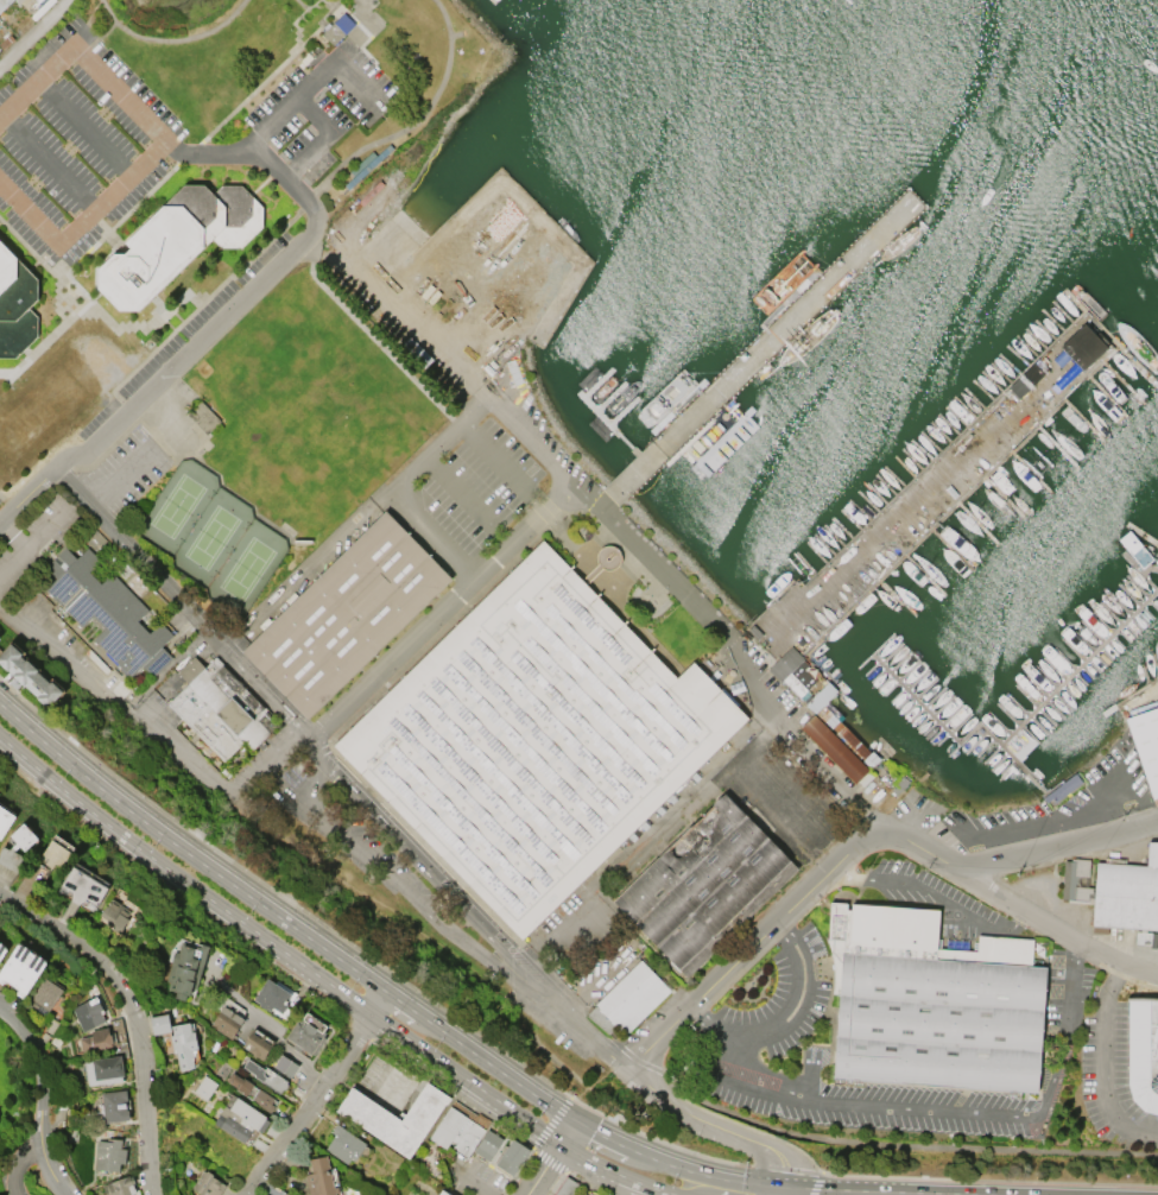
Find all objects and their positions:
building: (18, 0)
road: (327, 1)
building: (4, 4)
road: (300, 4)
road: (321, 25)
road: (29, 27)
building: (333, 33)
road: (97, 37)
road: (366, 38)
road: (171, 39)
road: (337, 64)
road: (259, 84)
road: (311, 109)
parking lot: (319, 113)
road: (413, 121)
road: (83, 127)
road: (164, 139)
parking lot: (76, 141)
road: (203, 151)
road: (48, 162)
building: (177, 240)
road: (308, 249)
road: (68, 251)
road: (76, 287)
building: (15, 306)
road: (44, 339)
road: (201, 339)
road: (375, 341)
building: (1082, 346)
pier: (761, 347)
pier: (596, 385)
pier: (609, 399)
pier: (624, 412)
building: (202, 418)
pier: (607, 424)
road: (532, 435)
park: (262, 444)
road: (501, 466)
parking lot: (124, 472)
road: (118, 479)
road: (394, 485)
parking lot: (469, 492)
road: (558, 495)
road: (468, 499)
pier: (919, 502)
park: (176, 505)
road: (12, 533)
park: (210, 536)
road: (32, 537)
building: (607, 556)
road: (652, 562)
park: (246, 568)
road: (603, 593)
road: (185, 599)
road: (179, 605)
building: (106, 611)
building: (344, 614)
road: (426, 626)
road: (49, 658)
building: (791, 670)
building: (27, 675)
railway: (112, 688)
pier: (1055, 688)
building: (219, 707)
building: (837, 722)
pier: (937, 722)
road: (302, 727)
building: (534, 738)
road: (798, 745)
building: (1145, 745)
building: (833, 747)
road: (319, 750)
road: (317, 751)
road: (328, 758)
road: (213, 786)
road: (291, 795)
road: (1072, 809)
road: (138, 817)
building: (5, 818)
road: (905, 821)
building: (21, 836)
road: (853, 846)
building: (53, 853)
road: (424, 865)
road: (388, 877)
road: (183, 880)
building: (707, 884)
building: (82, 886)
building: (1114, 889)
road: (931, 891)
road: (472, 900)
building: (114, 913)
road: (1045, 923)
road: (561, 934)
building: (1, 949)
road: (336, 956)
building: (20, 968)
building: (184, 968)
railway: (524, 987)
road: (593, 987)
building: (42, 995)
building: (270, 995)
building: (631, 995)
road: (544, 1003)
building: (931, 1003)
road: (380, 1004)
parking lot: (773, 1005)
building: (87, 1012)
road: (418, 1013)
road: (131, 1016)
road: (784, 1018)
building: (224, 1020)
building: (159, 1023)
road: (531, 1029)
building: (305, 1032)
road: (274, 1033)
building: (95, 1039)
building: (182, 1044)
building: (255, 1044)
building: (1143, 1052)
road: (439, 1060)
building: (283, 1063)
road: (1103, 1063)
parking lot: (1120, 1066)
road: (654, 1068)
building: (102, 1069)
building: (264, 1075)
road: (578, 1077)
road: (510, 1079)
road: (809, 1082)
building: (203, 1086)
building: (251, 1090)
road: (656, 1093)
road: (40, 1098)
road: (308, 1104)
building: (113, 1105)
road: (949, 1109)
building: (248, 1114)
building: (393, 1117)
road: (551, 1121)
traffic signals: (575, 1121)
road: (634, 1121)
road: (862, 1123)
building: (230, 1124)
road: (532, 1124)
road: (745, 1125)
building: (458, 1128)
road: (949, 1128)
road: (1010, 1131)
road: (568, 1132)
road: (613, 1140)
road: (638, 1142)
traffic signals: (561, 1143)
building: (342, 1144)
building: (487, 1144)
road: (907, 1144)
road: (574, 1151)
building: (108, 1153)
building: (511, 1156)
road: (20, 1162)
traffic signals: (786, 1165)
road: (543, 1169)
building: (318, 1177)
road: (602, 1177)
road: (627, 1177)
road: (720, 1178)
road: (988, 1180)
road: (472, 1182)
road: (815, 1183)
building: (207, 1184)
building: (118, 1185)
building: (565, 1187)
road: (801, 1187)
traffic signals: (818, 1188)
road: (859, 1189)
building: (442, 1193)
road: (977, 1193)
building: (283, 1194)
building: (582, 1194)
building: (588, 1194)
road: (670, 1194)
road: (675, 1194)

